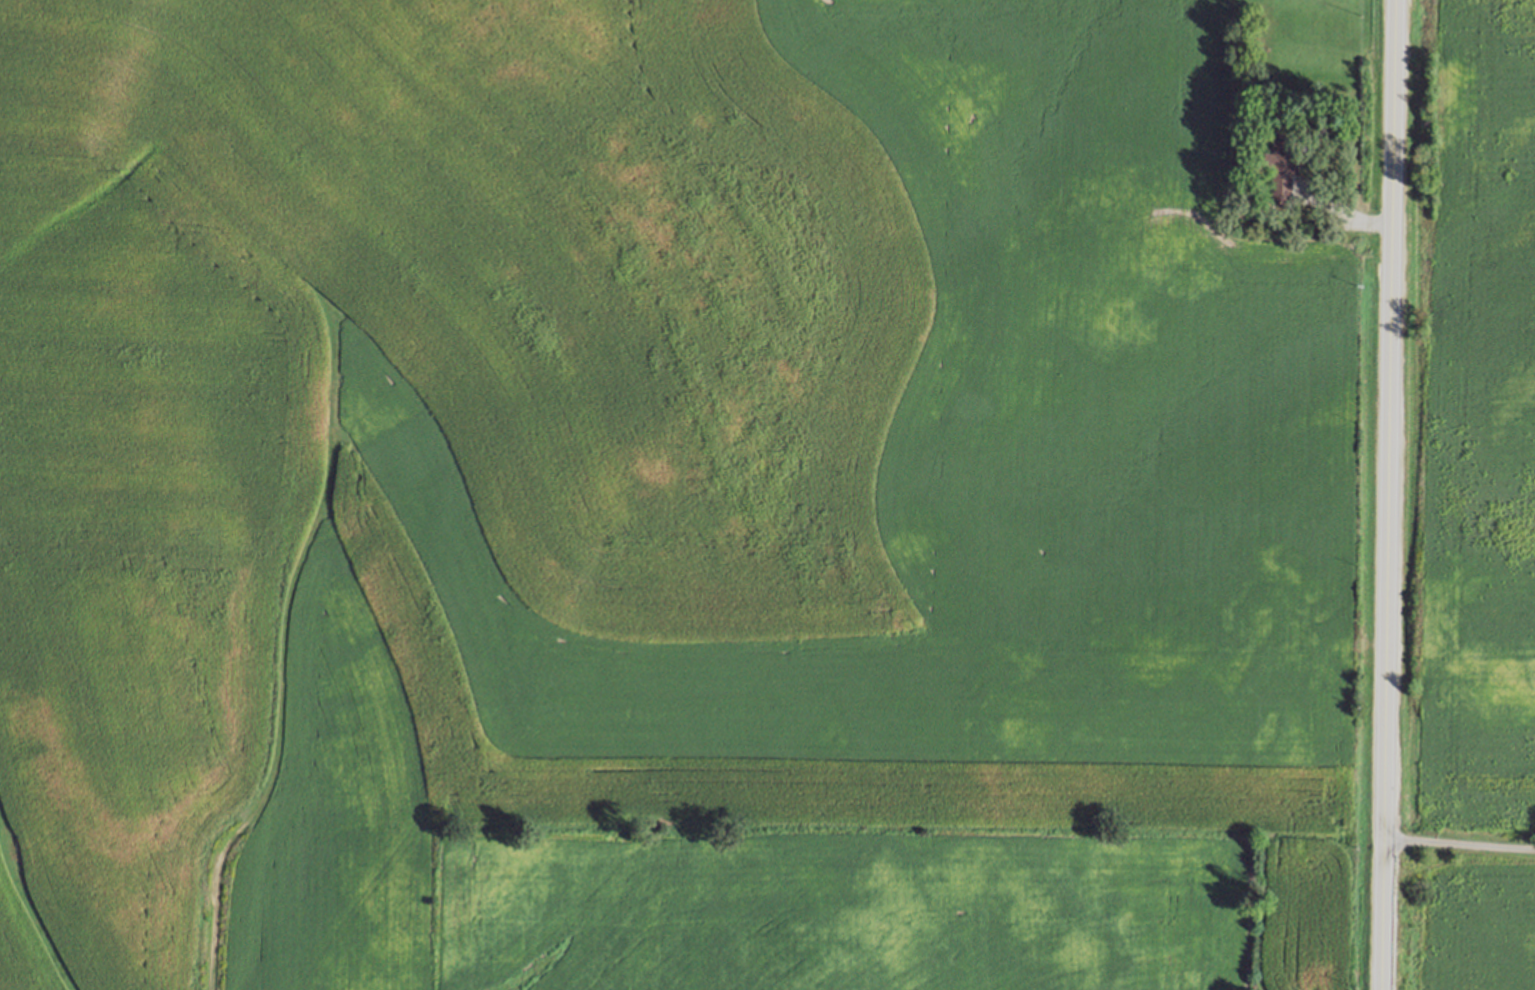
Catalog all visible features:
building: (1282, 170)
road: (1341, 213)
road: (1388, 494)
road: (1459, 844)

